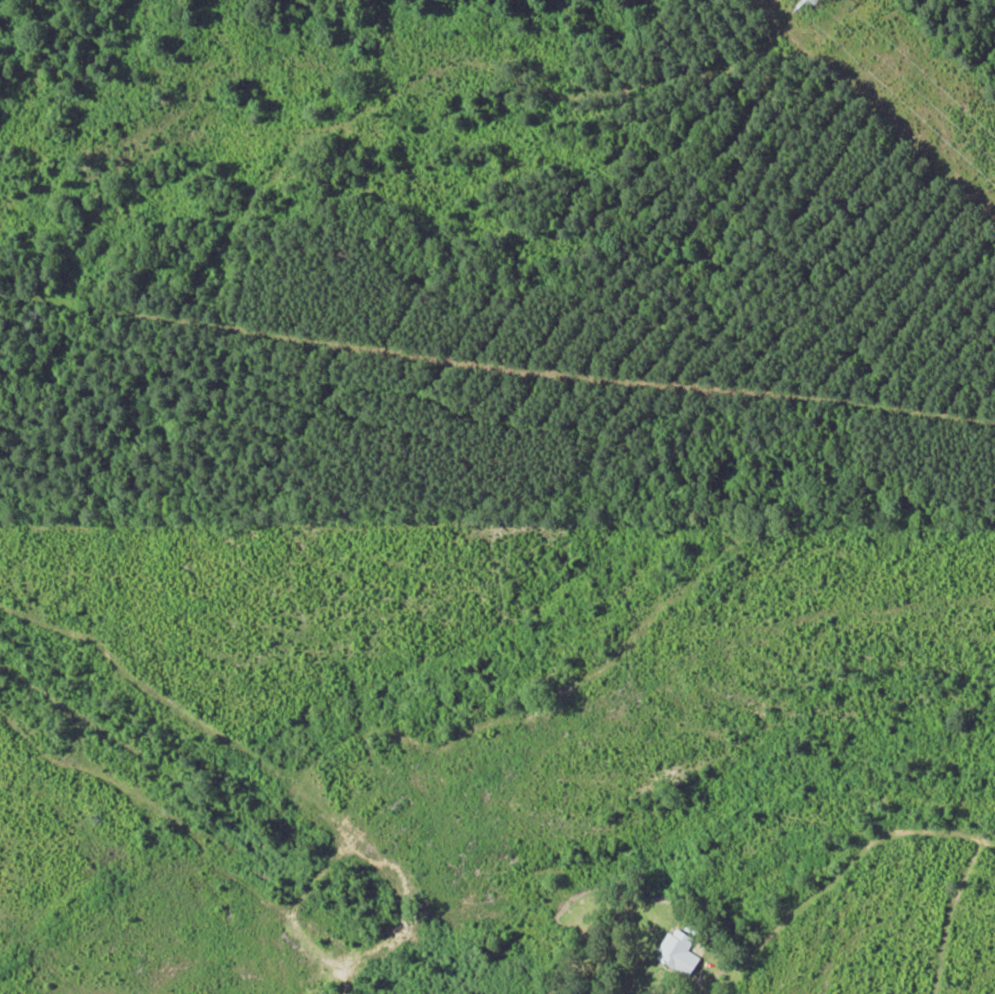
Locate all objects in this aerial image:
power tower: (819, 2)
building: (679, 951)

